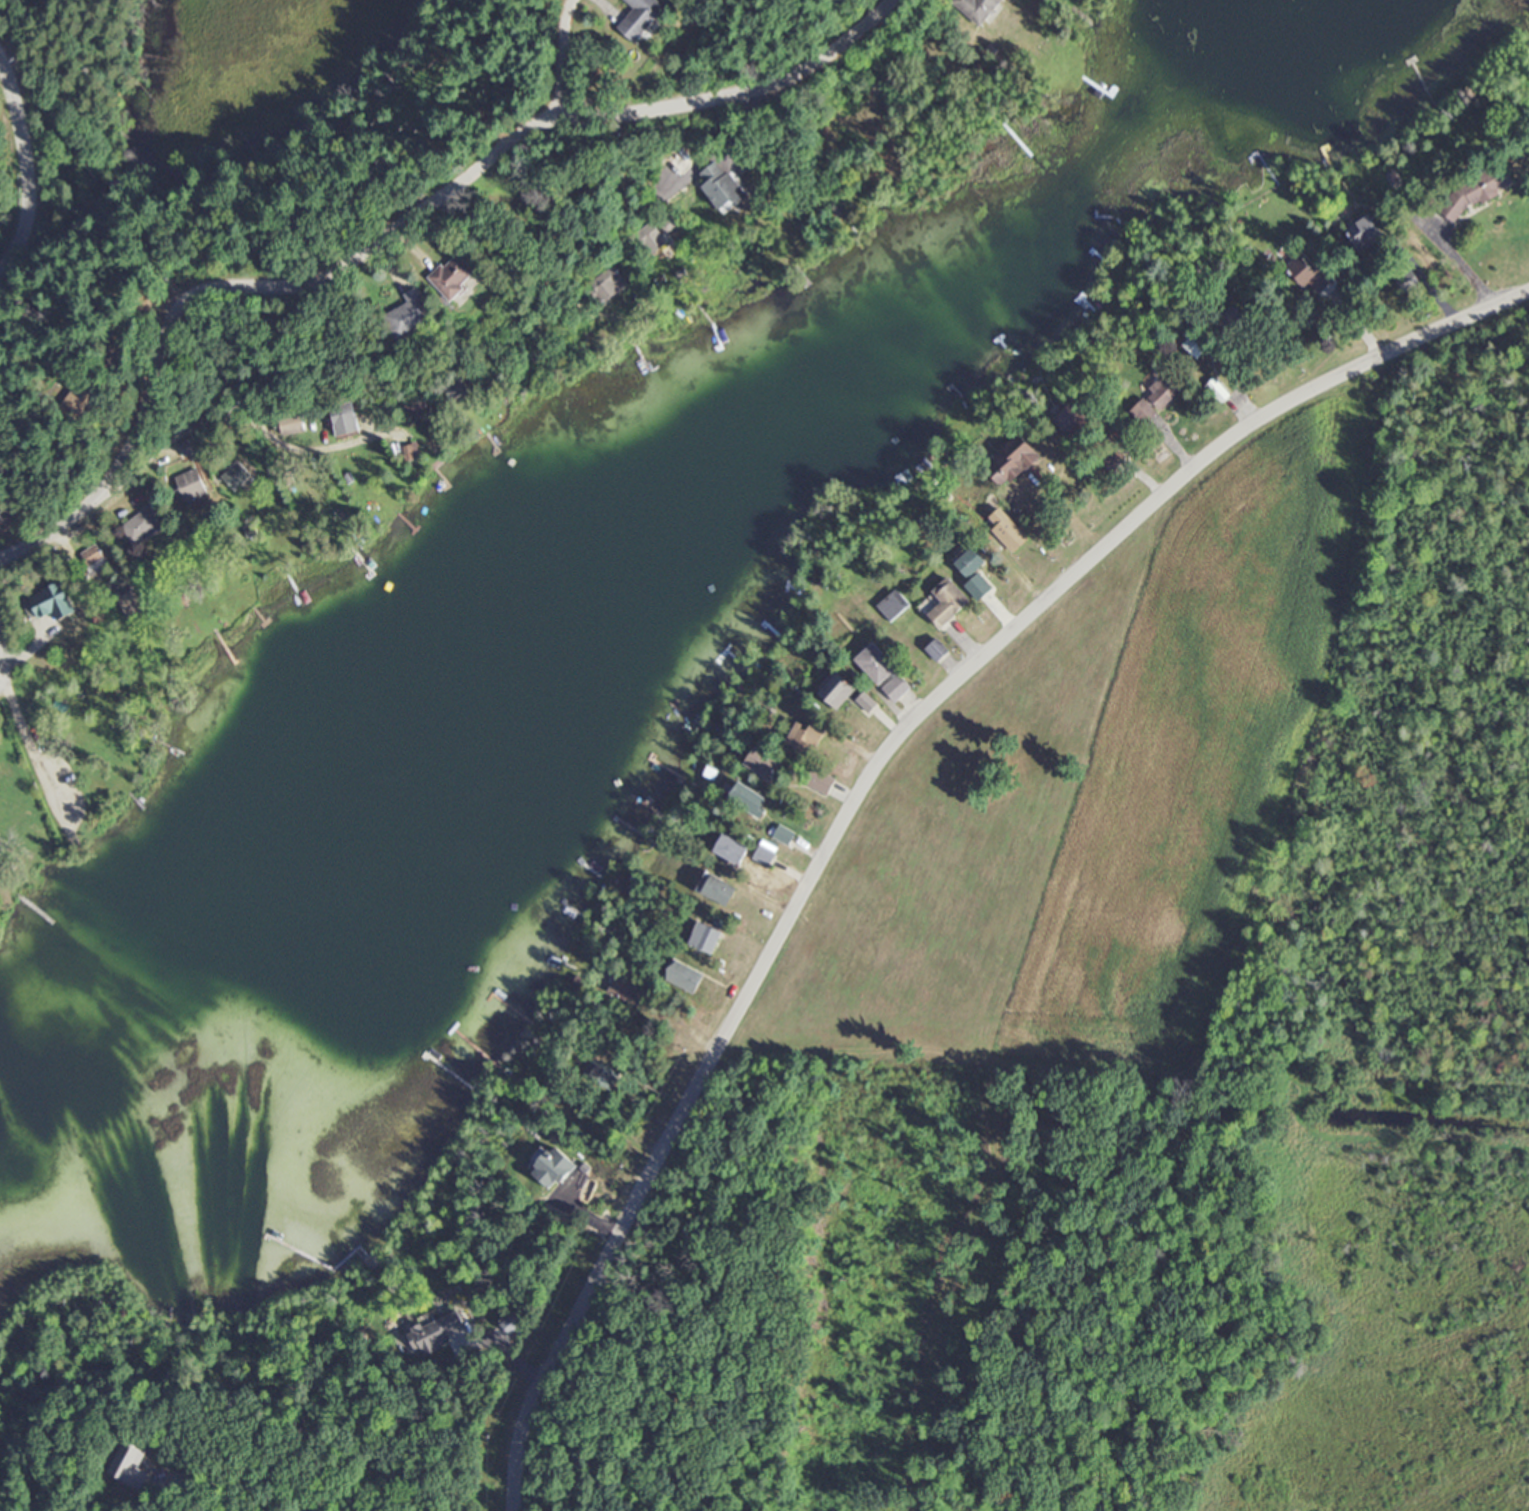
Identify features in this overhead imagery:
building: (974, 9)
building: (637, 17)
road: (584, 48)
road: (24, 171)
building: (718, 185)
building: (1361, 231)
road: (379, 234)
building: (649, 237)
building: (1303, 272)
building: (452, 274)
building: (608, 280)
building: (408, 313)
road: (538, 324)
building: (1191, 342)
building: (455, 389)
building: (1214, 390)
building: (79, 394)
building: (412, 401)
building: (1068, 417)
building: (342, 419)
building: (289, 423)
building: (186, 447)
building: (1108, 460)
building: (1009, 461)
building: (233, 475)
building: (188, 485)
building: (140, 524)
building: (1002, 536)
building: (91, 559)
building: (966, 563)
building: (976, 587)
building: (45, 602)
building: (944, 603)
building: (889, 606)
building: (933, 651)
building: (872, 664)
road: (2, 680)
building: (893, 688)
building: (834, 691)
building: (863, 703)
building: (802, 737)
road: (26, 745)
building: (760, 764)
road: (875, 778)
building: (816, 781)
building: (741, 796)
building: (781, 835)
building: (728, 849)
building: (762, 853)
building: (714, 889)
building: (702, 938)
building: (681, 976)
building: (624, 988)
building: (550, 1169)
building: (433, 1332)
building: (128, 1467)

